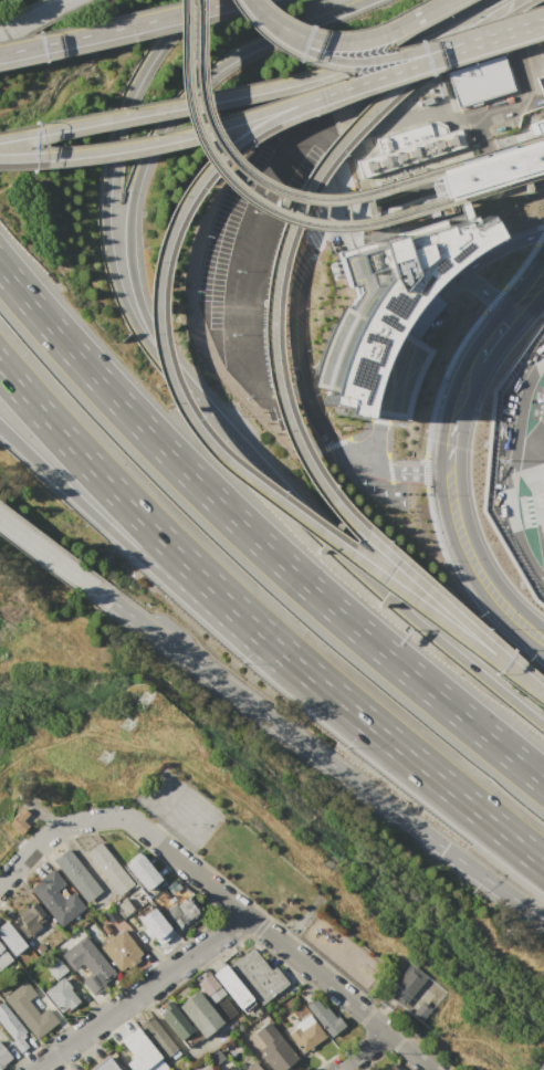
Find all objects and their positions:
road: (255, 9)
road: (32, 17)
road: (537, 20)
road: (116, 27)
road: (356, 40)
road: (391, 55)
road: (435, 55)
building: (478, 80)
road: (270, 85)
airport: (336, 106)
road: (155, 132)
road: (186, 133)
road: (20, 134)
building: (408, 146)
building: (282, 158)
building: (489, 169)
road: (105, 181)
railway: (302, 196)
building: (460, 209)
railway: (286, 218)
road: (166, 235)
street lamp: (521, 248)
street lamp: (519, 262)
street lamp: (484, 265)
road: (244, 267)
road: (465, 269)
road: (487, 295)
building: (385, 319)
street lamp: (468, 325)
road: (270, 349)
road: (297, 365)
street lamp: (443, 366)
road: (389, 374)
road: (222, 430)
street lamp: (425, 430)
street lamp: (399, 458)
road: (449, 462)
airport apron: (522, 462)
airport: (519, 463)
road: (510, 470)
road: (388, 471)
street lamp: (423, 494)
road: (257, 541)
road: (54, 559)
street lamp: (442, 559)
road: (390, 585)
road: (220, 594)
road: (405, 611)
road: (221, 627)
power tower: (143, 697)
power tower: (125, 723)
power tower: (102, 756)
road: (326, 760)
park: (178, 805)
building: (20, 821)
road: (52, 829)
road: (503, 831)
building: (108, 868)
building: (142, 873)
building: (75, 874)
park: (286, 895)
building: (56, 898)
building: (123, 908)
building: (184, 913)
building: (31, 916)
building: (155, 926)
building: (9, 938)
road: (280, 943)
building: (119, 951)
building: (3, 958)
building: (86, 966)
building: (54, 968)
building: (259, 975)
building: (405, 985)
building: (210, 989)
building: (232, 989)
road: (138, 993)
building: (62, 996)
building: (30, 1009)
building: (419, 1011)
building: (200, 1016)
building: (322, 1016)
building: (176, 1024)
building: (11, 1028)
building: (157, 1035)
building: (305, 1037)
building: (137, 1049)
building: (272, 1049)
road: (362, 1051)
building: (216, 1056)
building: (3, 1057)
building: (101, 1063)
building: (206, 1063)
building: (251, 1067)
building: (393, 1068)

